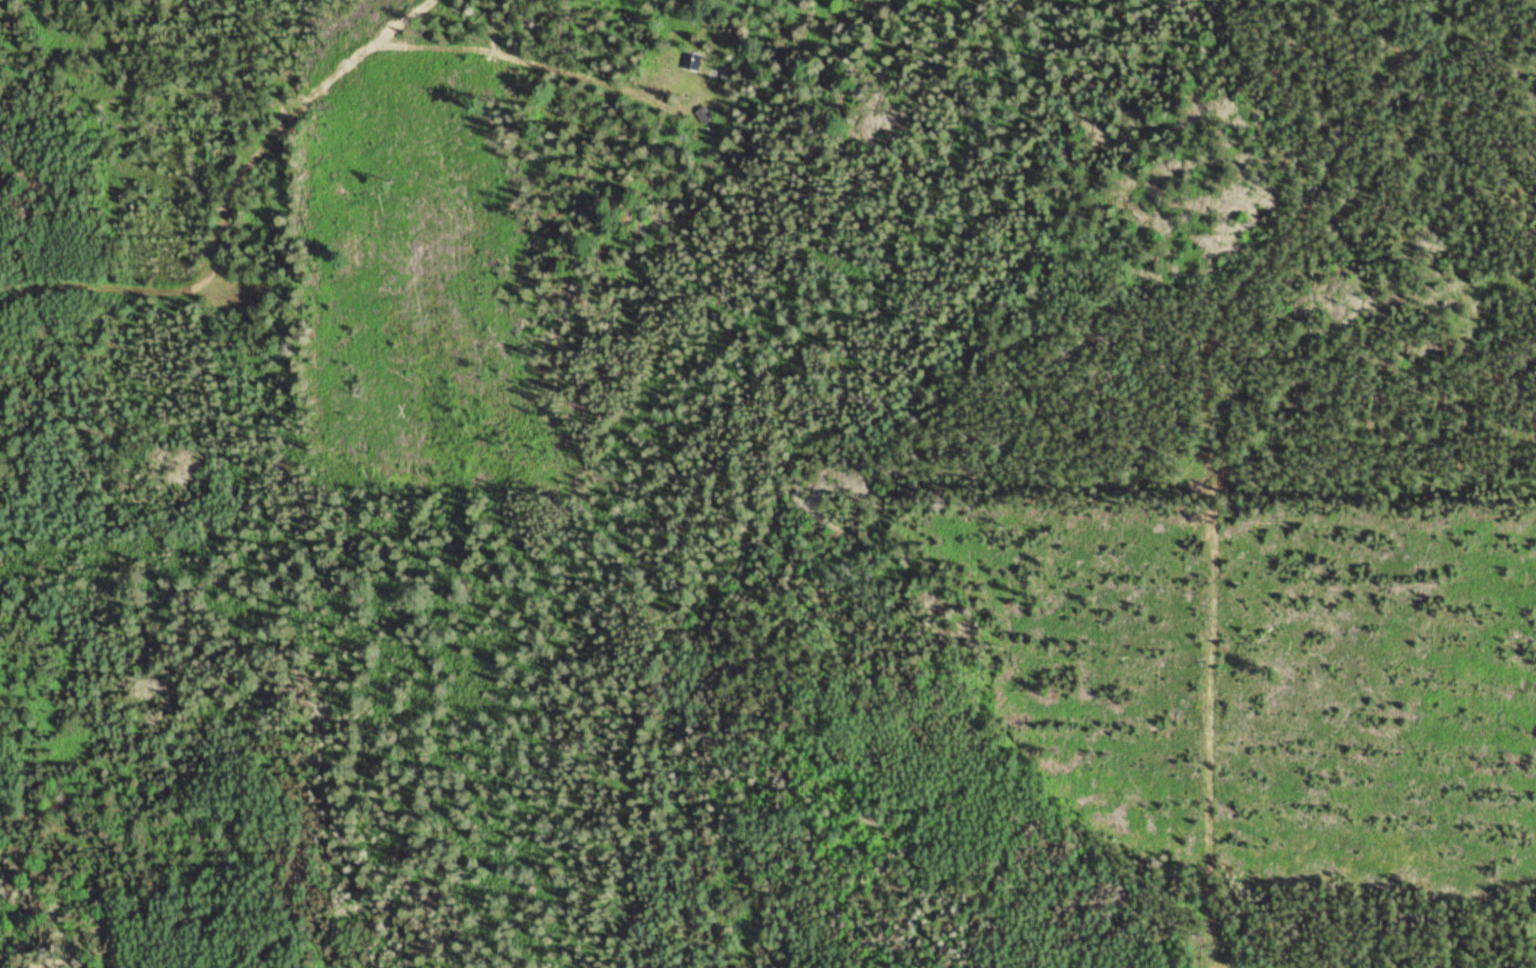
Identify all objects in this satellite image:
building: (690, 57)
road: (244, 217)

